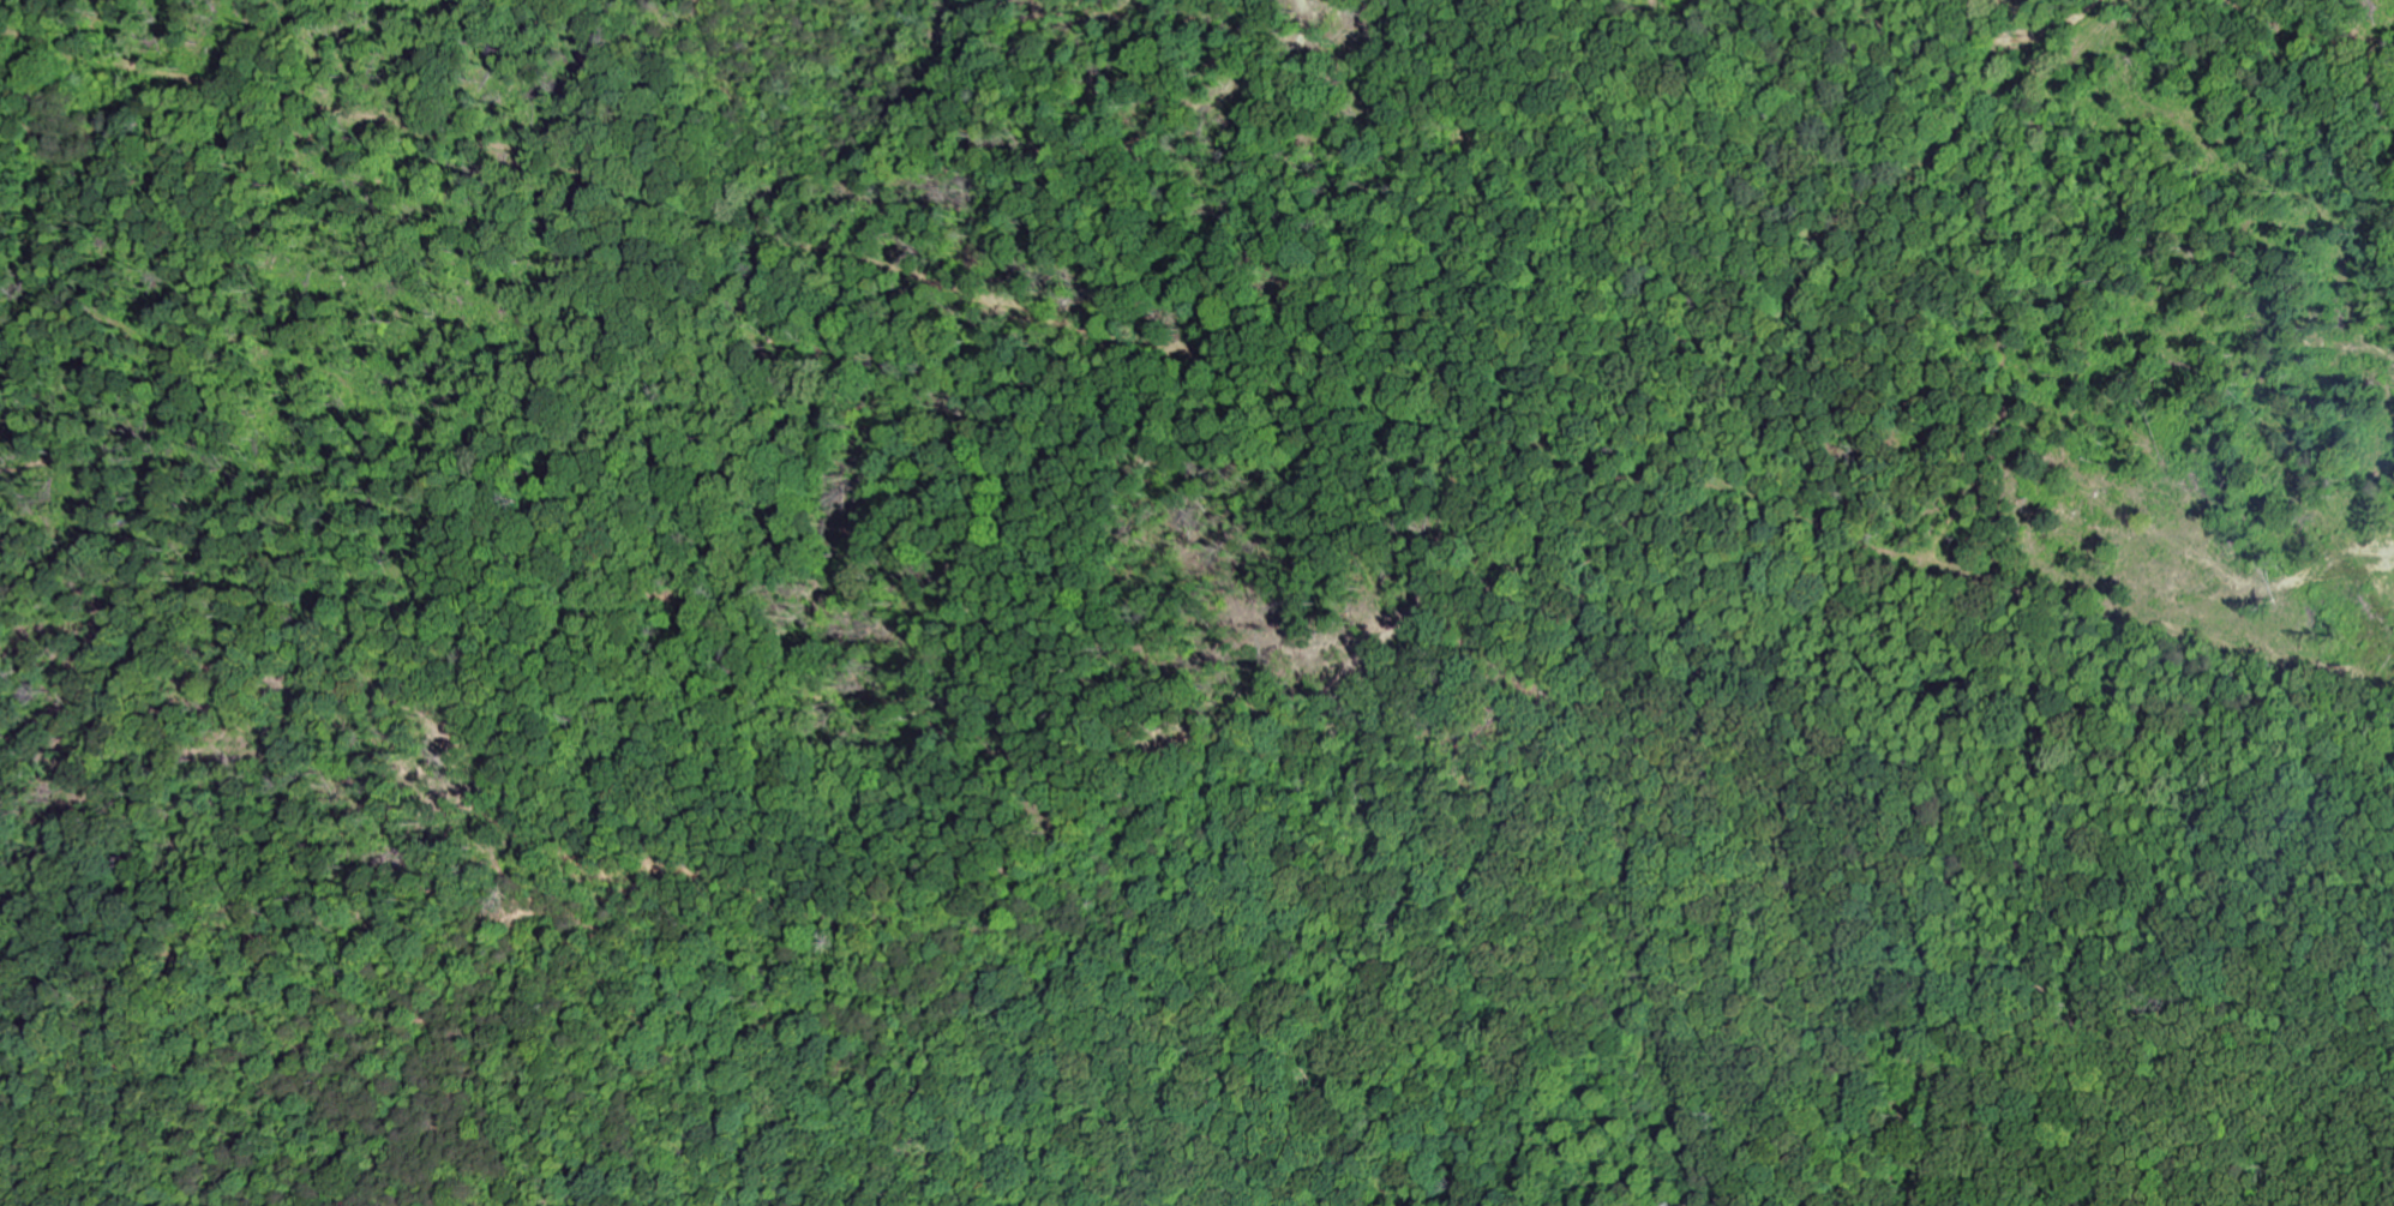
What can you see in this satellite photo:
road: (2255, 89)

